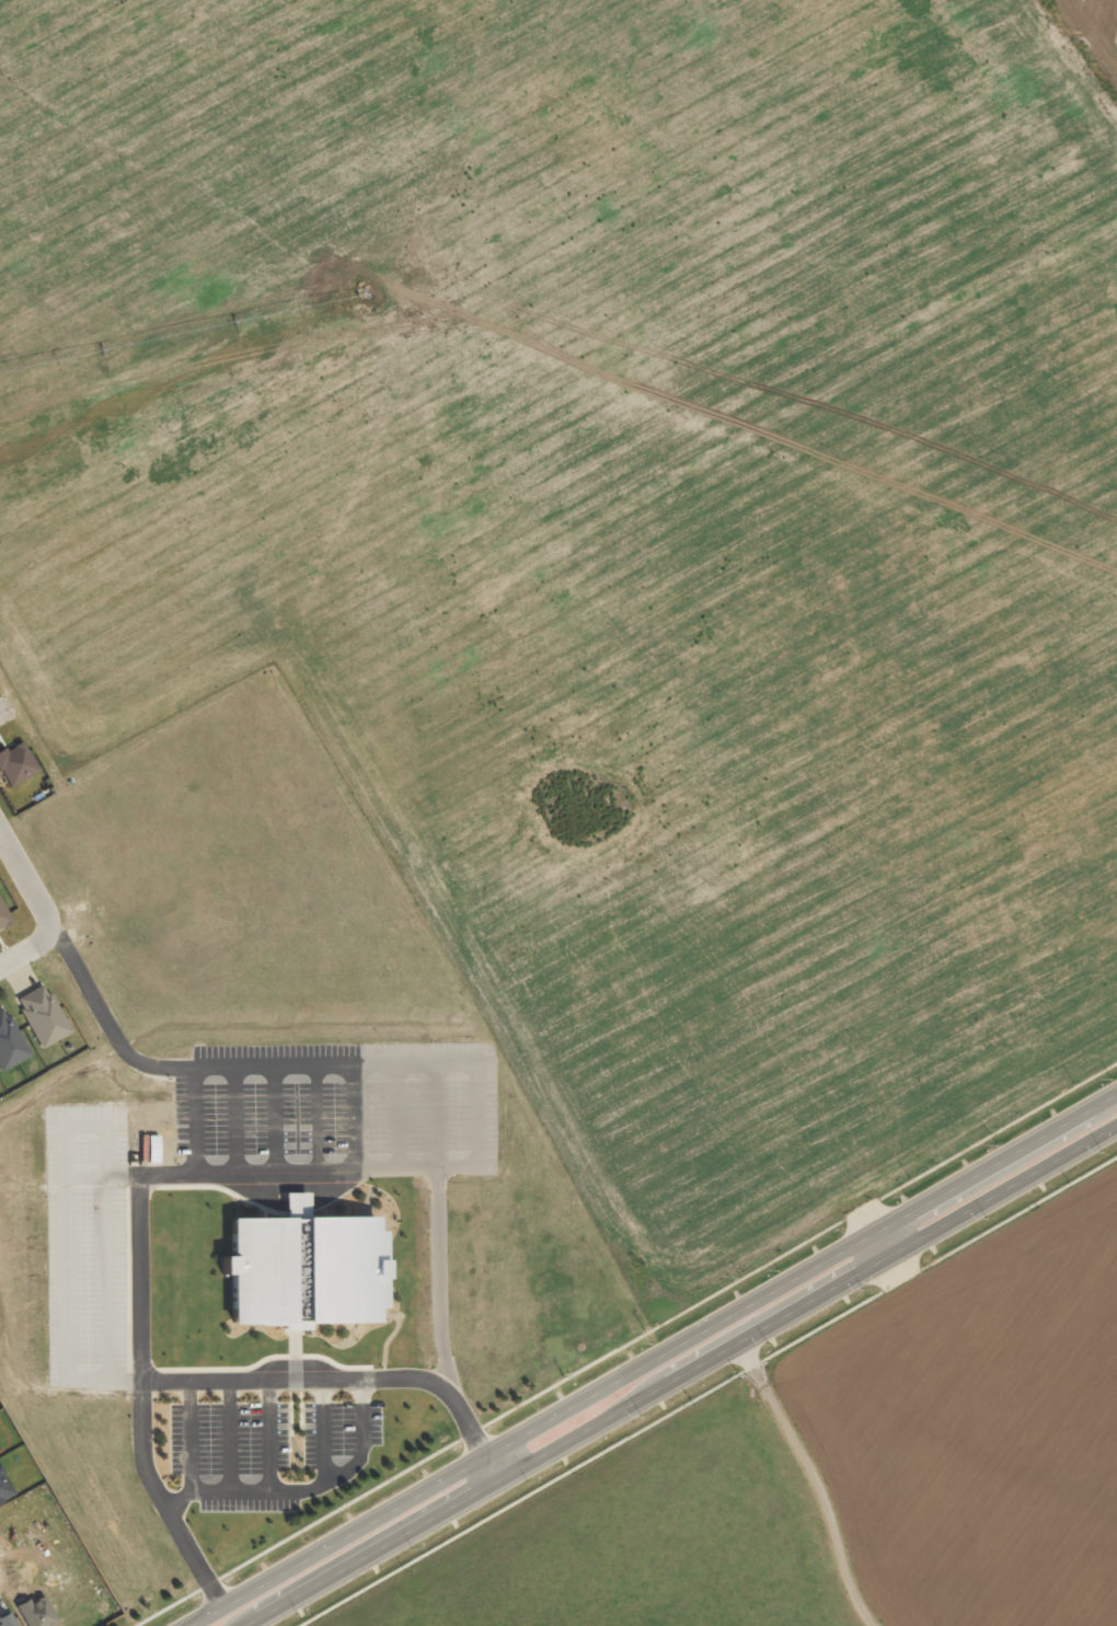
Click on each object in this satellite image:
road: (4, 710)
road: (42, 911)
building: (3, 919)
building: (42, 1015)
building: (10, 1042)
road: (476, 1072)
road: (398, 1116)
road: (318, 1117)
road: (357, 1117)
road: (274, 1118)
road: (193, 1119)
road: (234, 1119)
road: (437, 1229)
road: (882, 1244)
building: (304, 1268)
road: (67, 1334)
road: (625, 1344)
road: (653, 1359)
road: (680, 1374)
road: (707, 1391)
road: (141, 1400)
road: (322, 1429)
road: (189, 1434)
road: (228, 1434)
road: (269, 1434)
road: (490, 1468)
road: (817, 1479)
road: (304, 1489)
building: (7, 1618)

